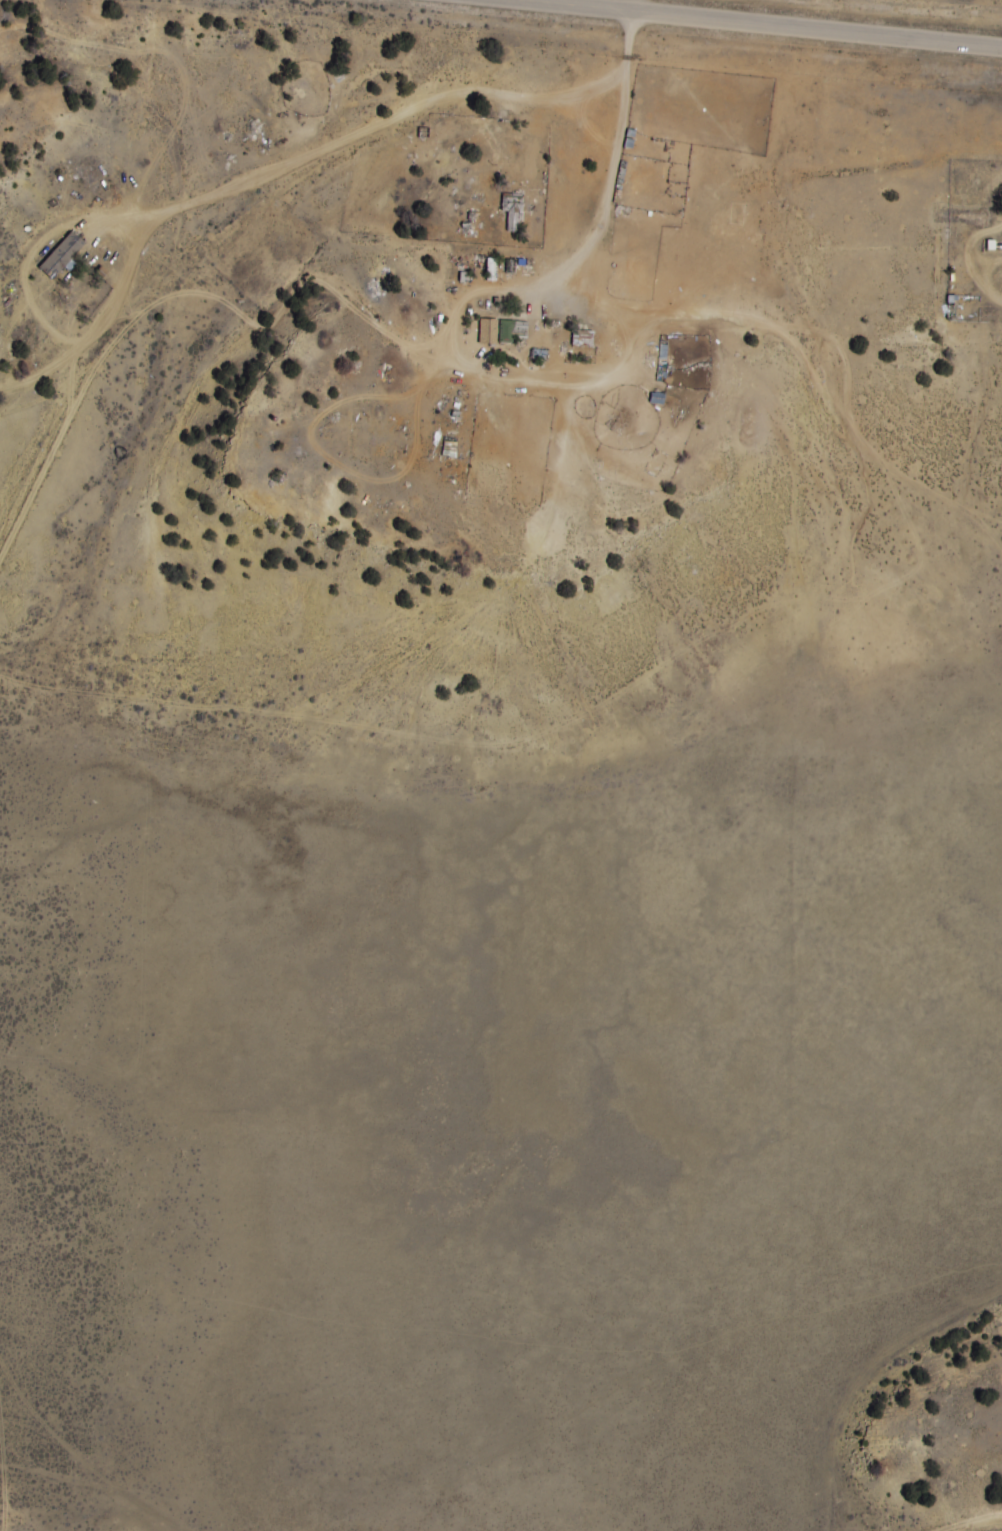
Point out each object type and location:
road: (763, 23)
building: (681, 153)
building: (523, 165)
building: (511, 211)
building: (60, 255)
building: (950, 307)
building: (486, 331)
building: (510, 331)
building: (585, 338)
building: (661, 356)
road: (421, 380)
building: (655, 398)
building: (447, 447)

